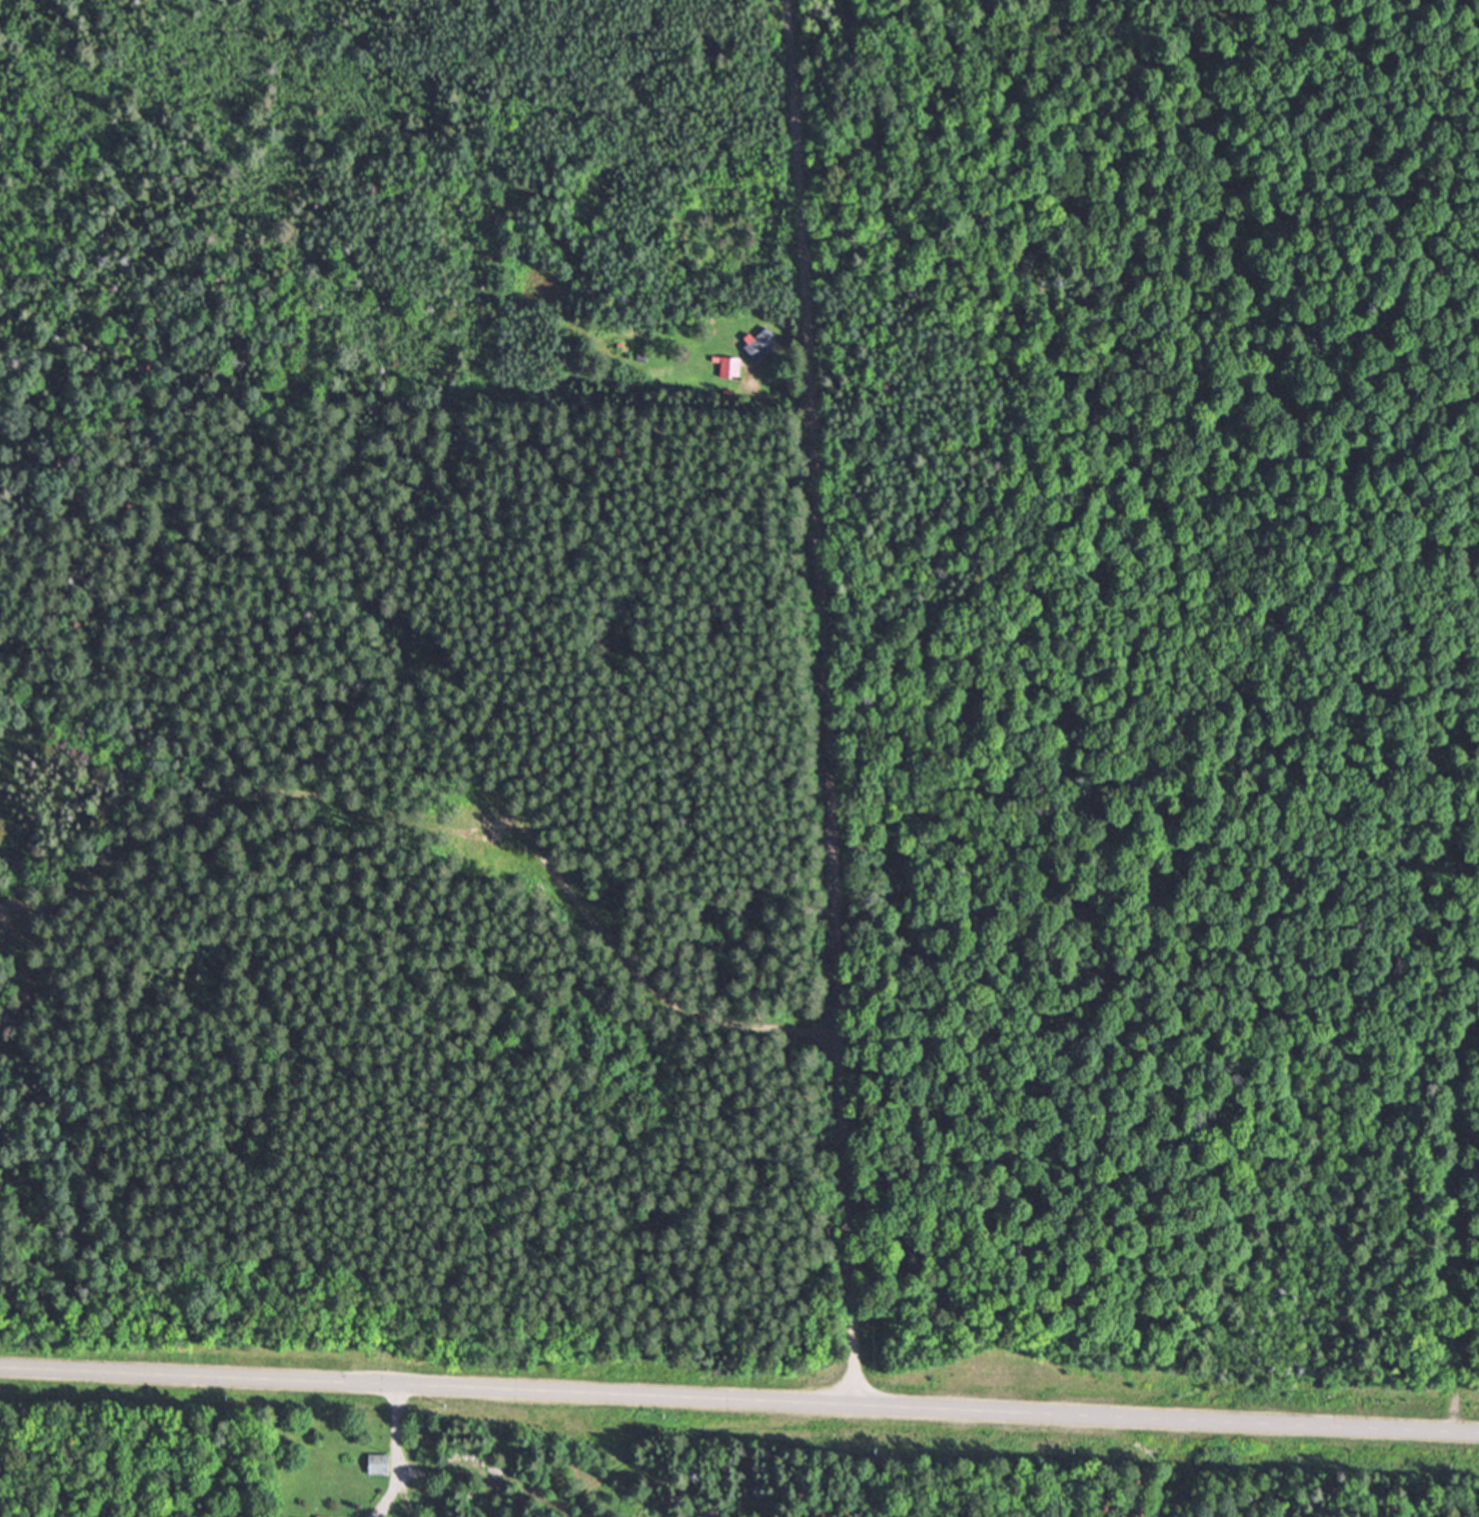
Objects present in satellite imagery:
building: (761, 343)
building: (731, 366)
road: (773, 404)
road: (820, 701)
road: (664, 998)
road: (739, 1398)
road: (398, 1454)
building: (379, 1463)
building: (326, 1516)

